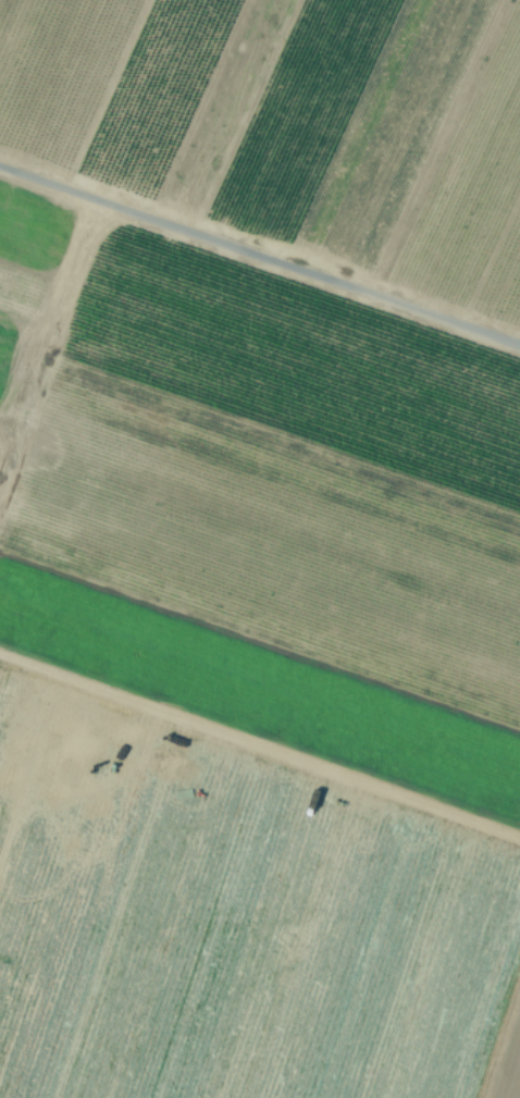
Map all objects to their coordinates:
road: (259, 256)
crop: (260, 548)
building: (39, 1003)

